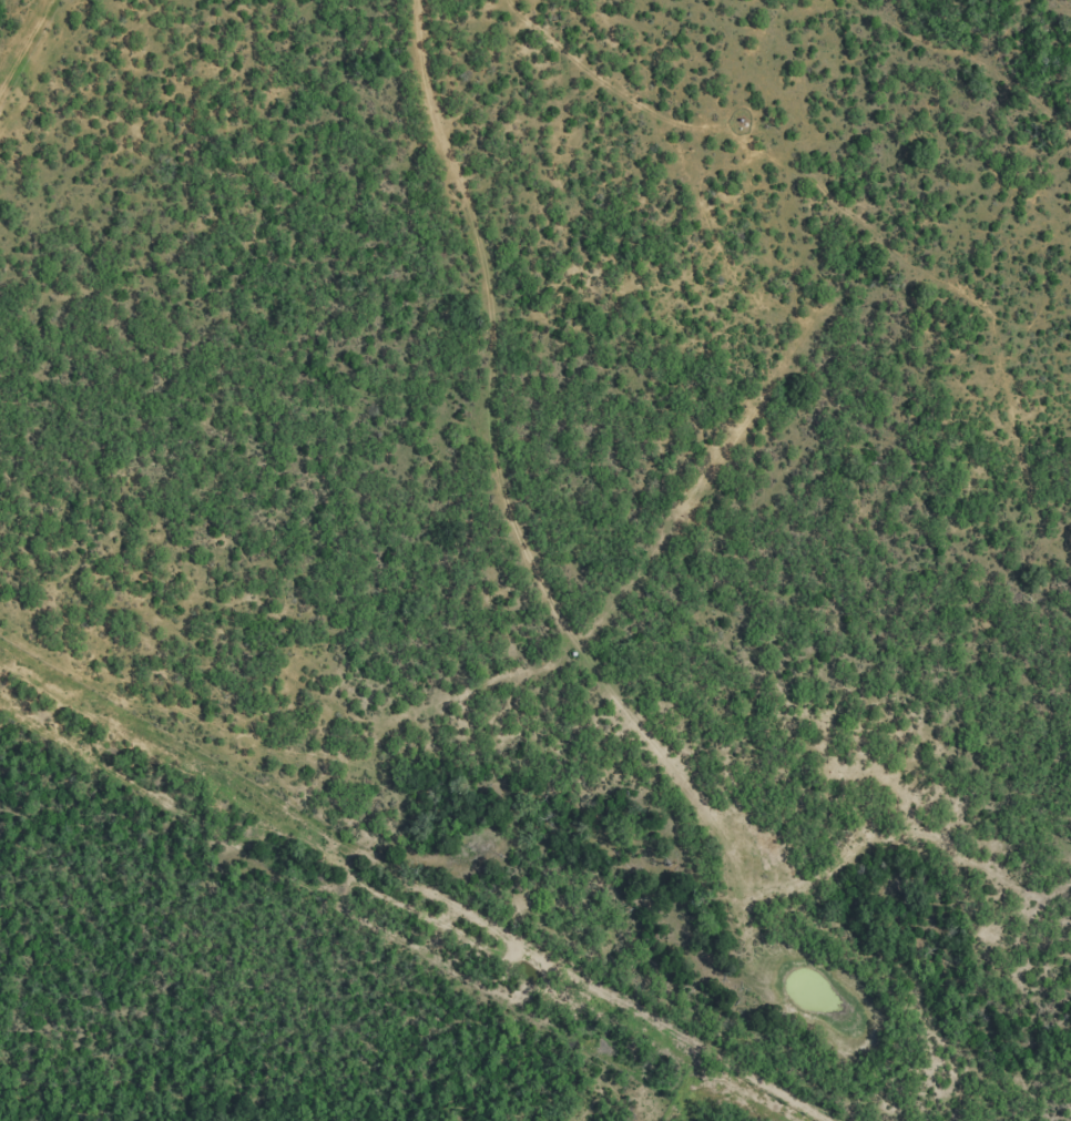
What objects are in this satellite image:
road: (467, 452)

